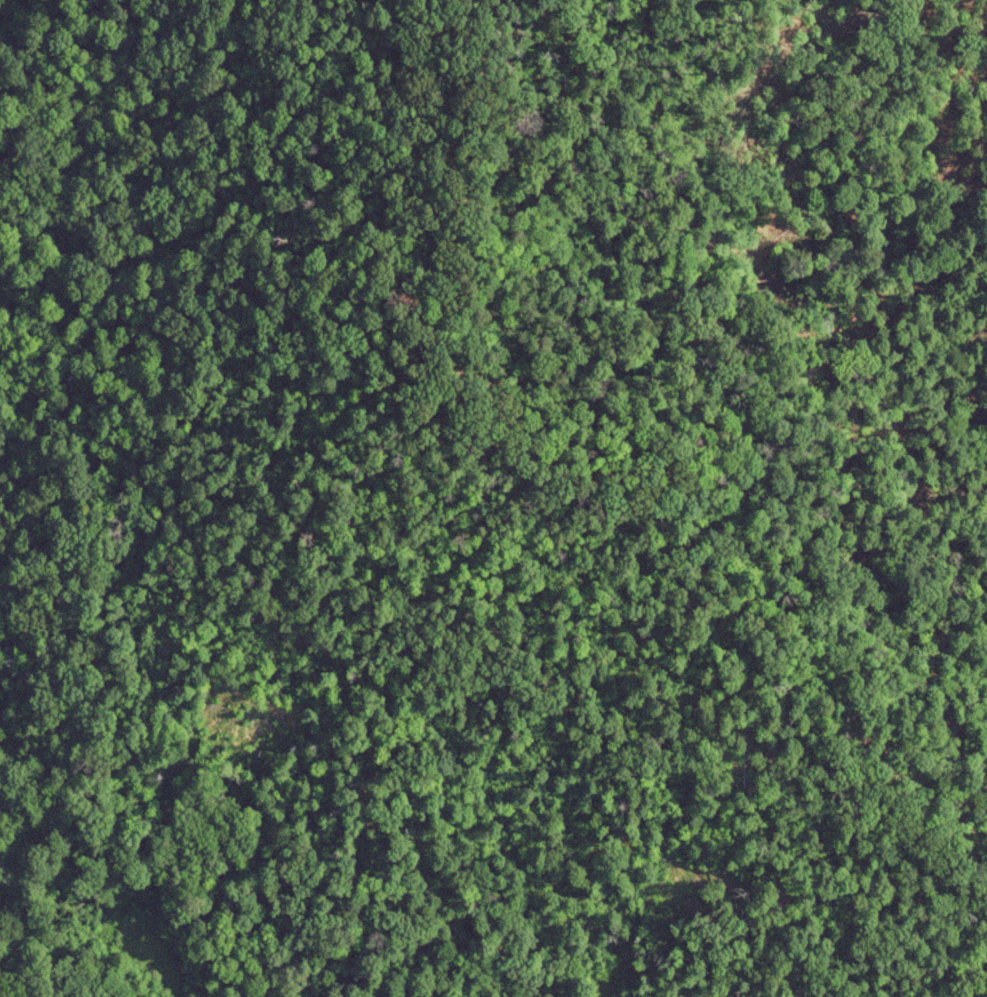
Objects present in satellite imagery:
road: (18, 983)

